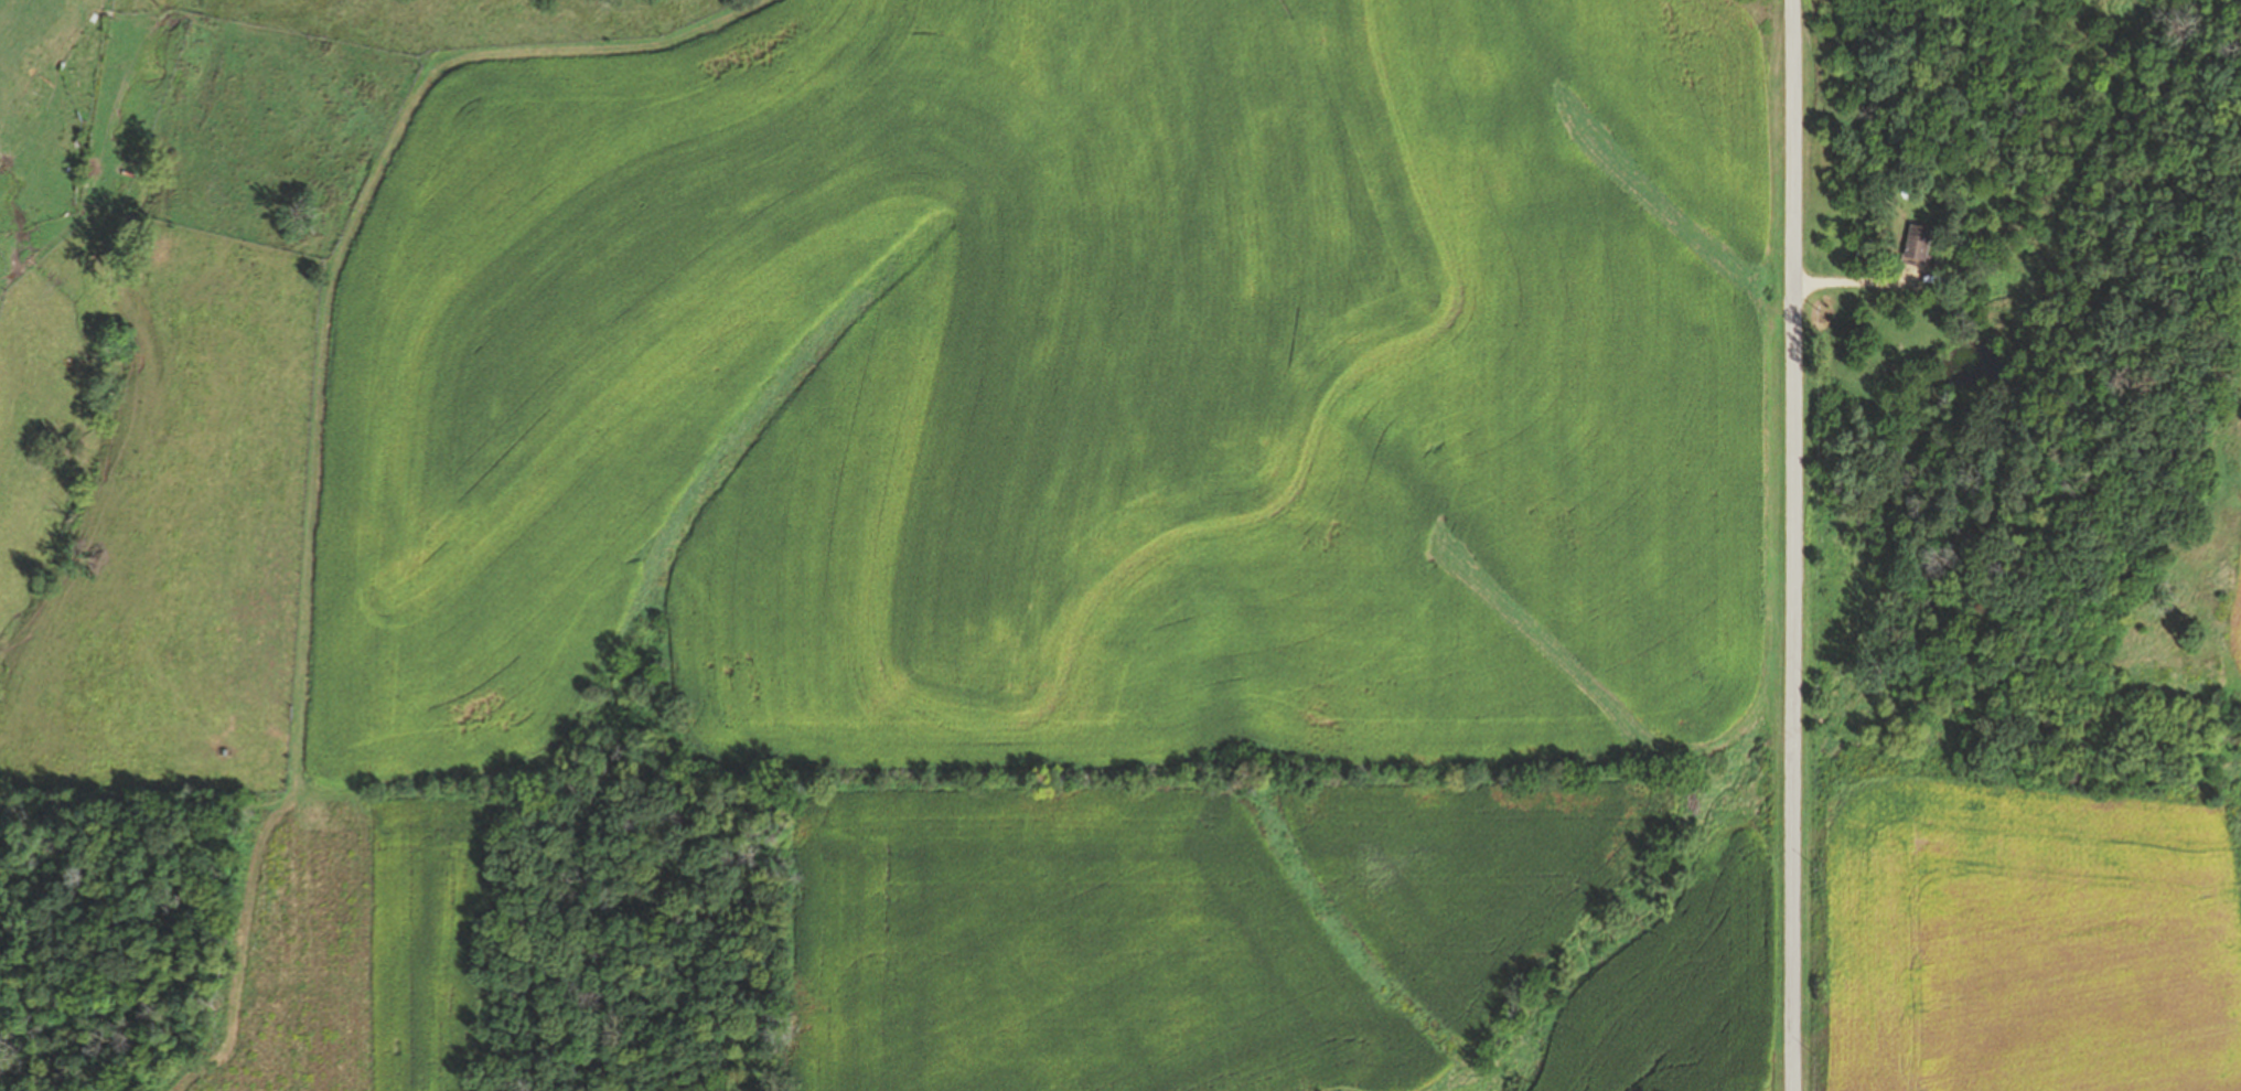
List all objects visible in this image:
building: (1917, 243)
road: (1794, 545)

